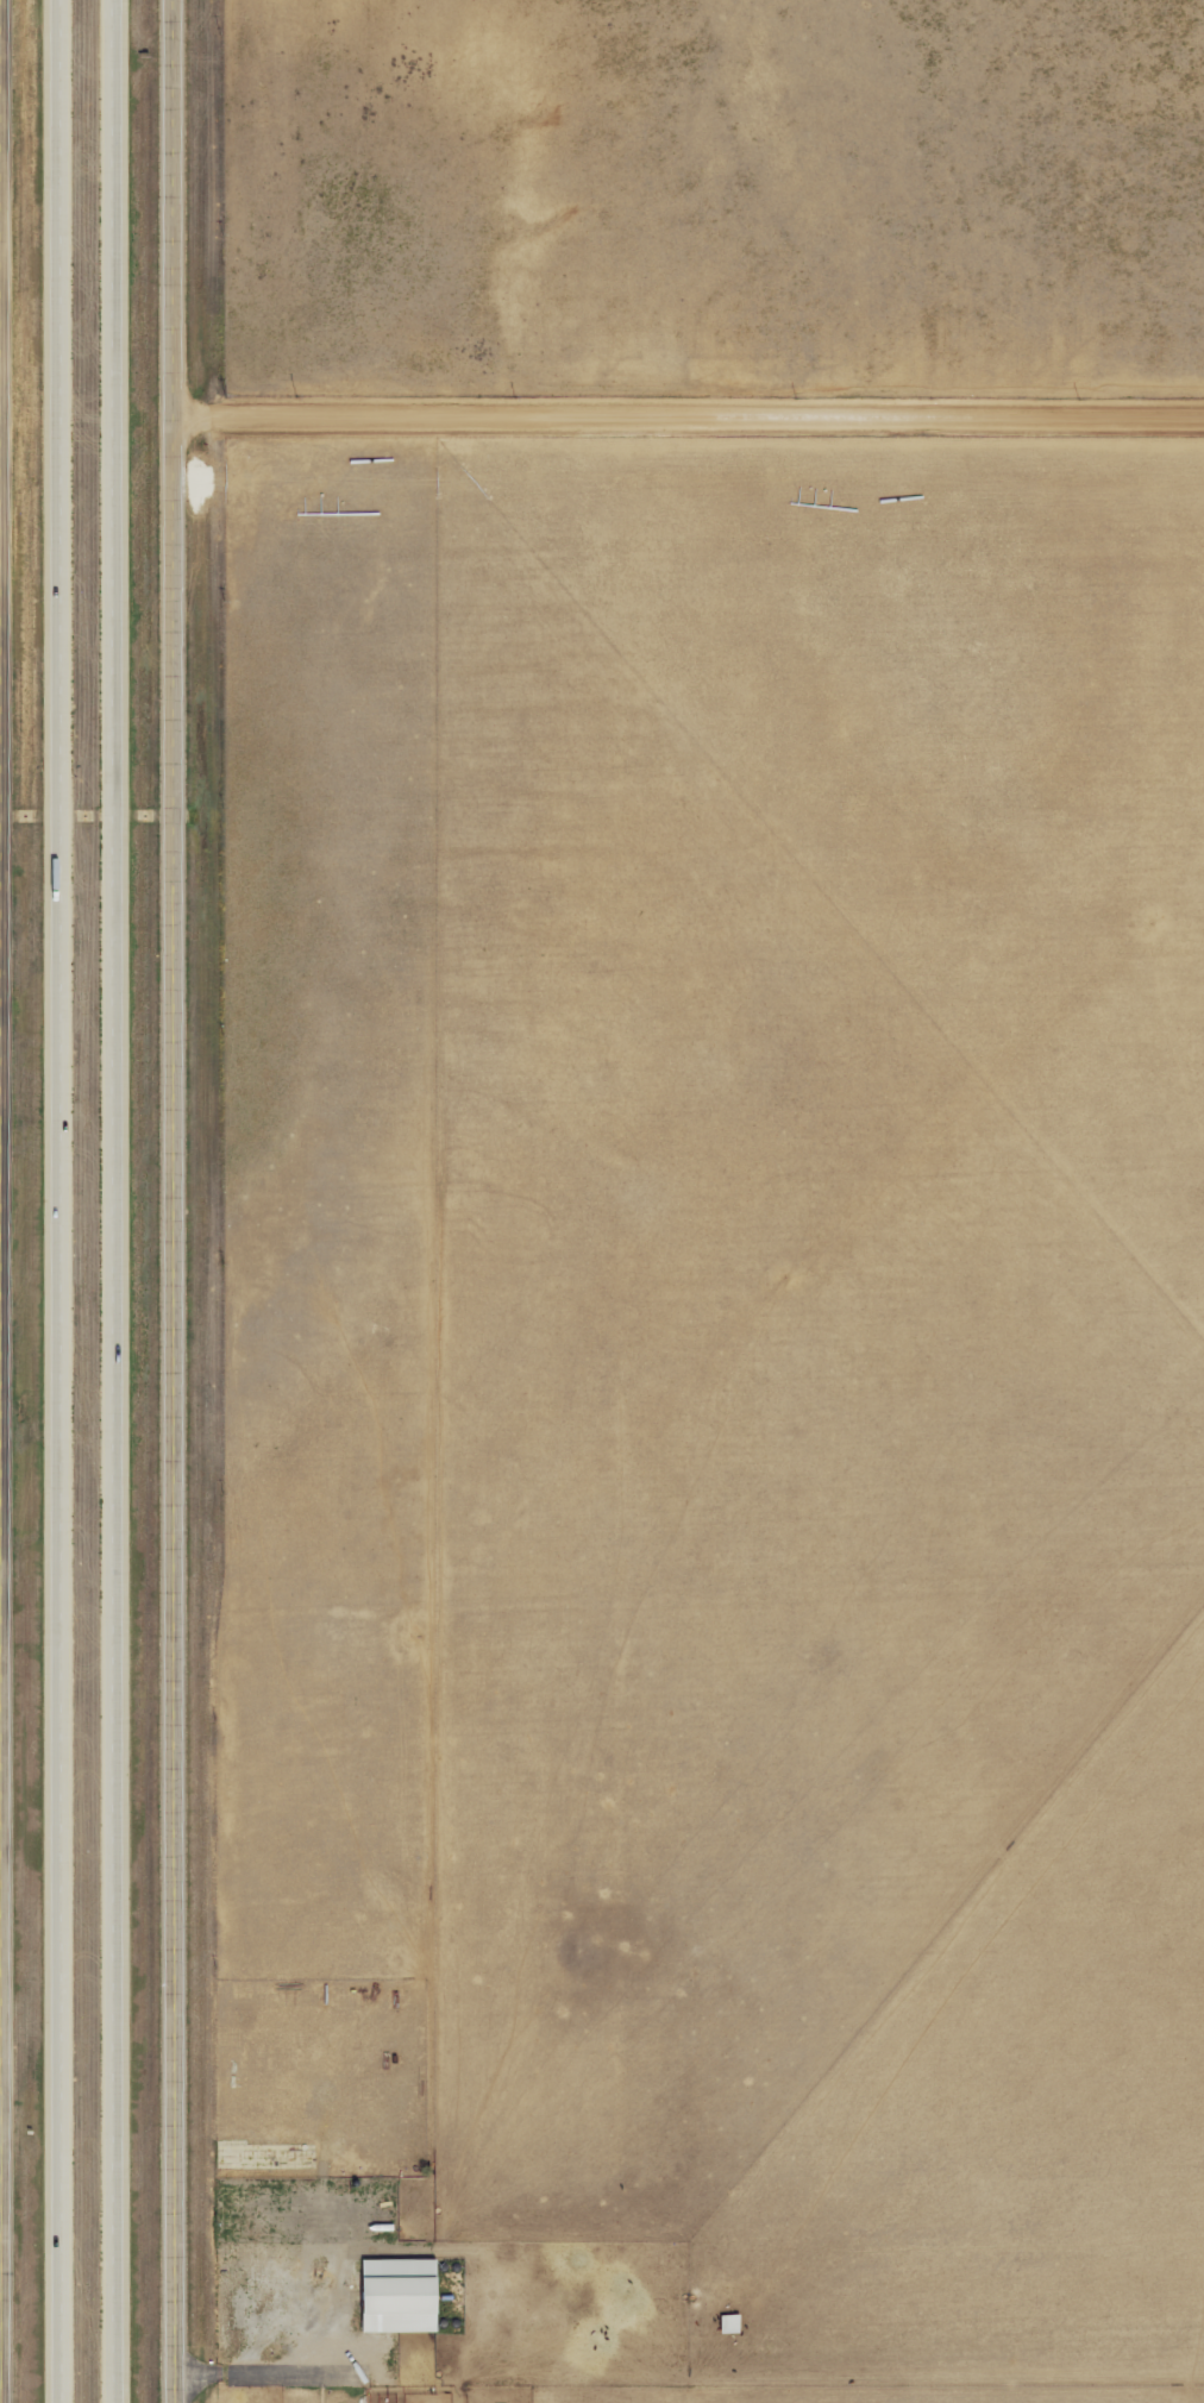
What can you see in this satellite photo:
road: (694, 423)
road: (2, 426)
road: (5, 1201)
road: (70, 1201)
road: (127, 1201)
road: (186, 1201)
road: (1, 2068)

